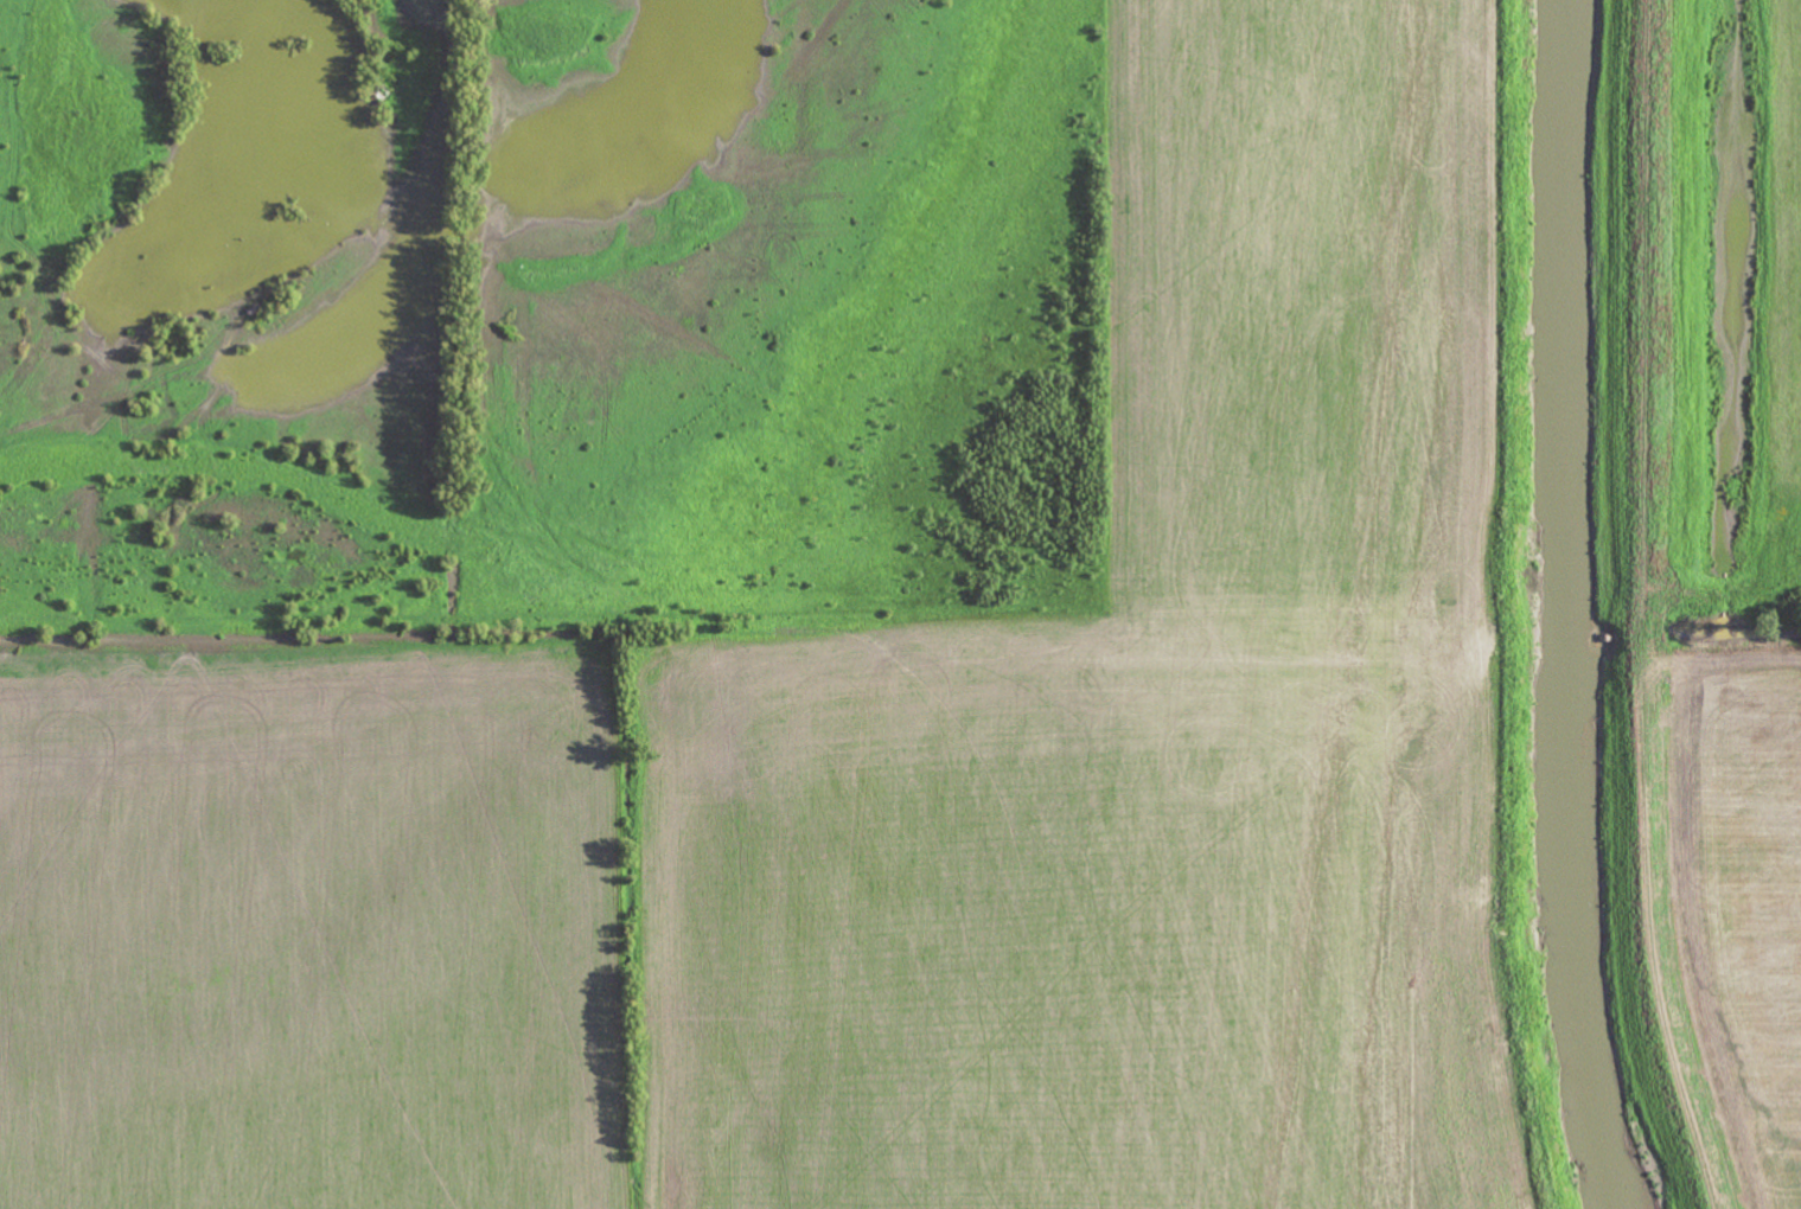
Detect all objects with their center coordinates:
road: (1499, 607)
river: (1556, 609)

